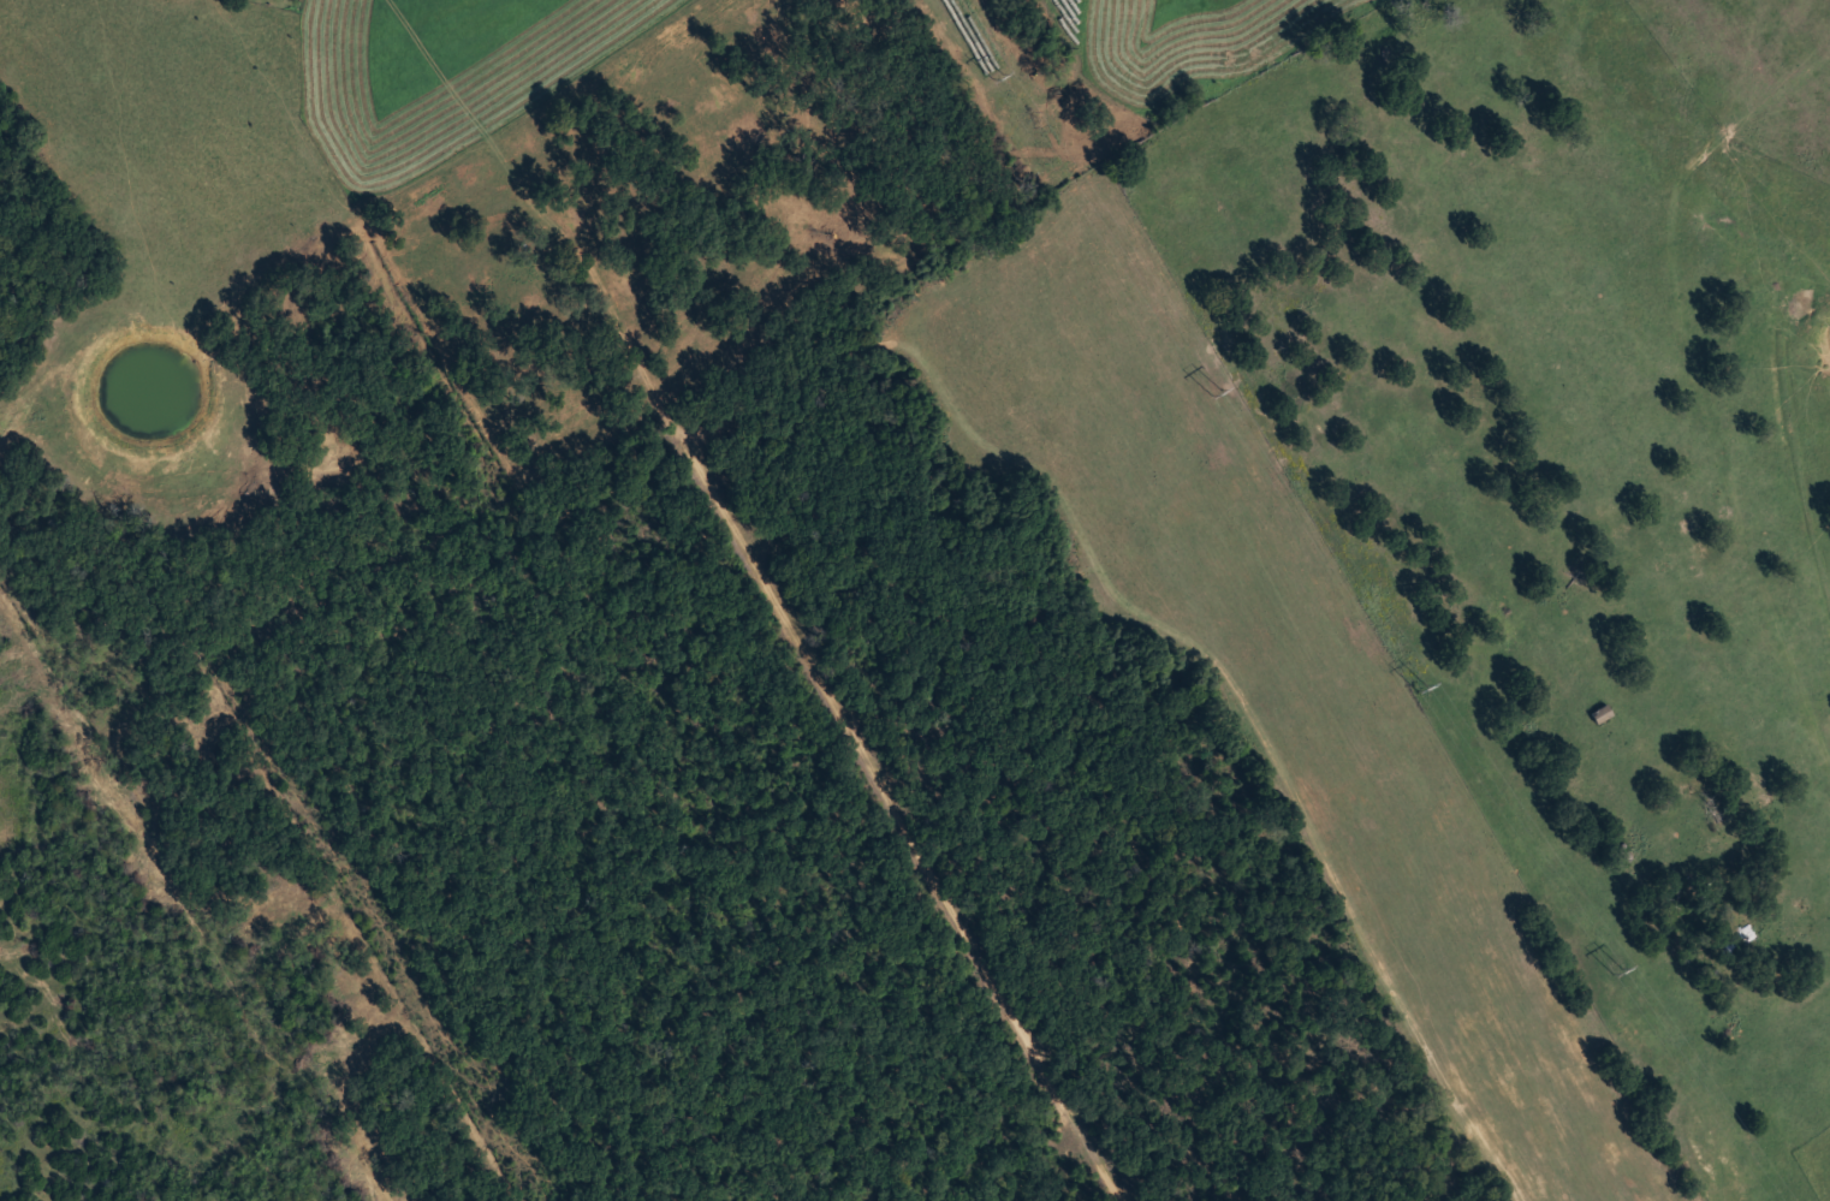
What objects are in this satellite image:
power tower: (998, 75)
power tower: (1217, 390)
power tower: (1421, 688)
building: (1596, 712)
power tower: (1617, 969)

